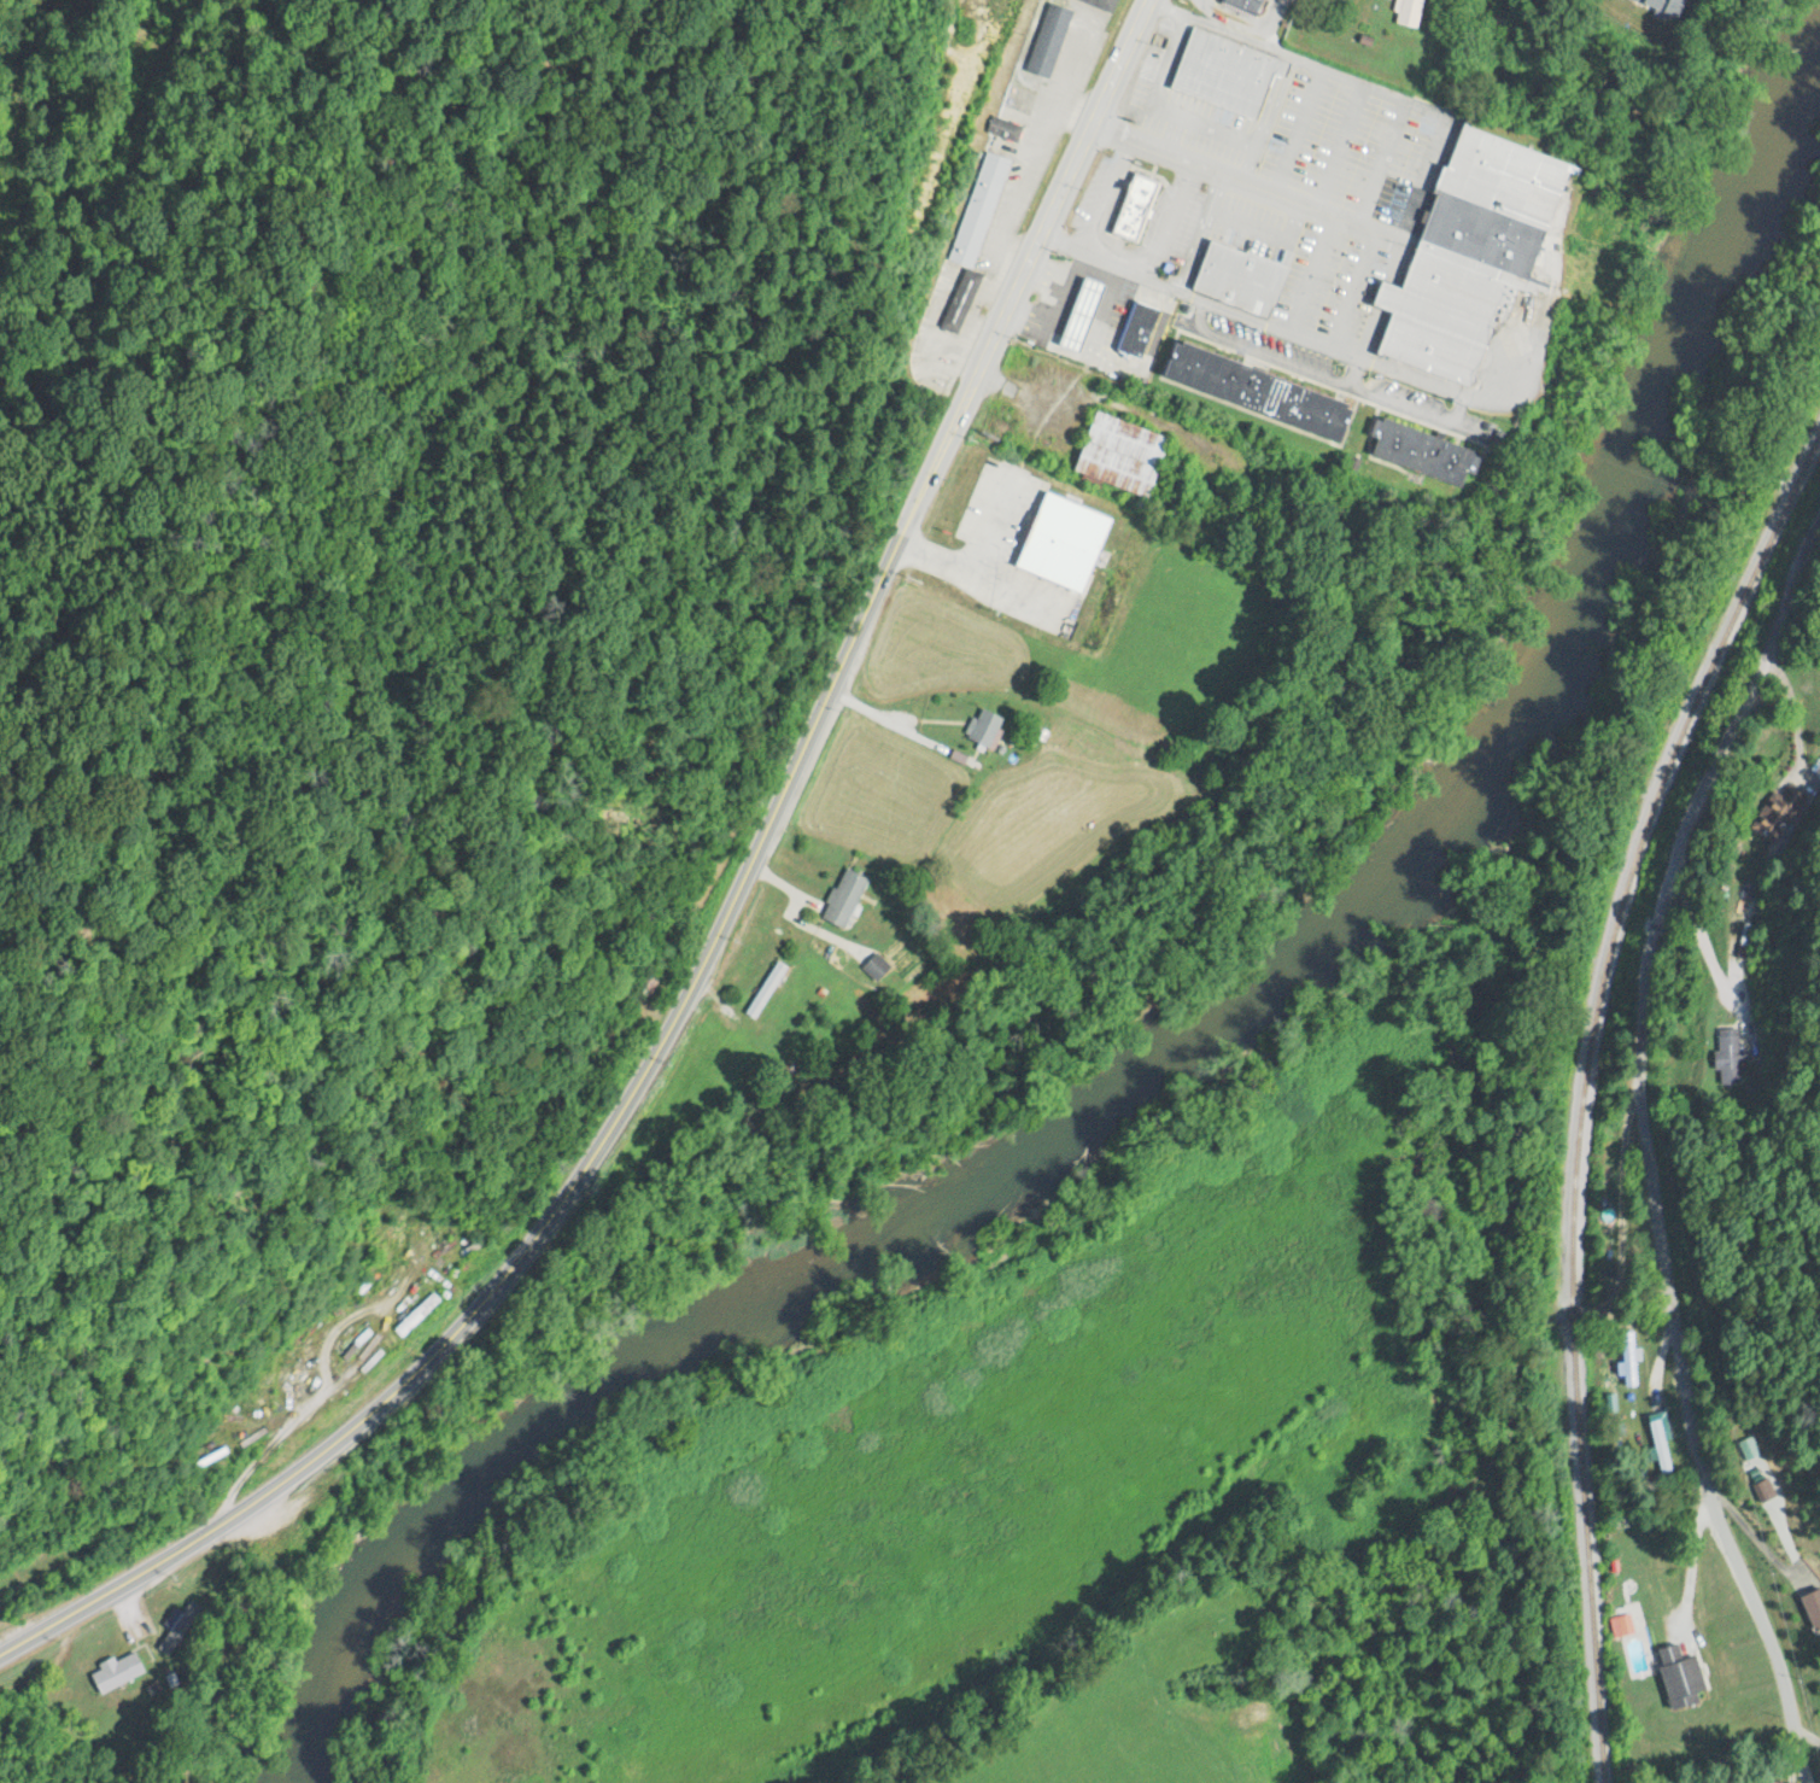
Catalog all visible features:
building: (1604, 1)
building: (1101, 4)
building: (1405, 11)
building: (1668, 18)
building: (1048, 40)
building: (1224, 71)
road: (1377, 88)
road: (1161, 107)
road: (1264, 117)
building: (1002, 128)
road: (1295, 129)
road: (1170, 131)
road: (1338, 145)
road: (1380, 160)
road: (1247, 181)
road: (1105, 194)
building: (1134, 206)
building: (978, 209)
road: (1165, 218)
road: (1263, 229)
road: (1199, 230)
building: (1468, 252)
road: (1310, 273)
building: (1237, 277)
road: (1353, 290)
road: (1383, 292)
building: (959, 300)
building: (1079, 314)
building: (1136, 329)
road: (1369, 331)
road: (1309, 340)
building: (1254, 391)
building: (1420, 451)
building: (1119, 454)
building: (983, 733)
building: (1777, 812)
building: (842, 898)
road: (714, 937)
building: (874, 965)
building: (645, 984)
building: (765, 989)
river: (1184, 1022)
building: (1730, 1056)
railway: (1585, 1086)
road: (1645, 1139)
building: (412, 1315)
road: (1556, 1322)
building: (1660, 1445)
building: (1746, 1448)
crop: (948, 1466)
building: (1763, 1489)
building: (1812, 1606)
building: (115, 1671)
building: (1678, 1674)

